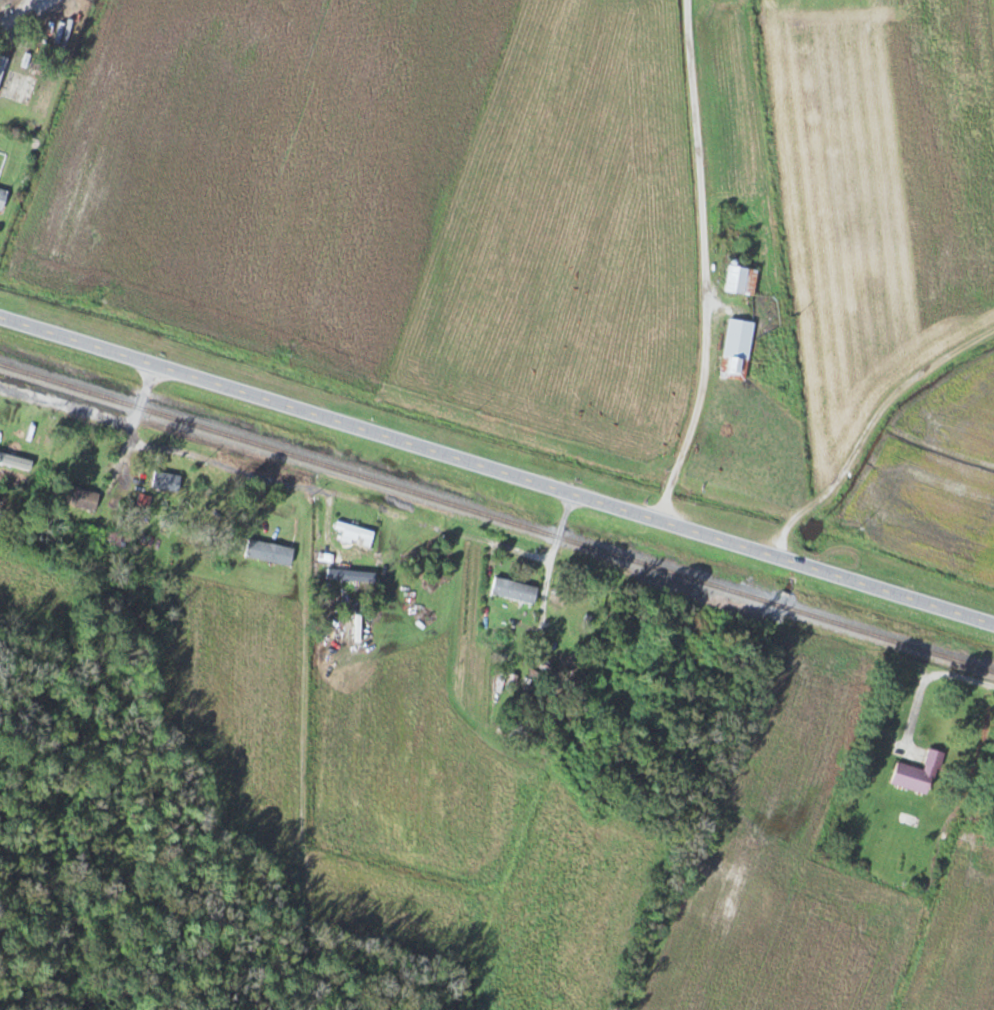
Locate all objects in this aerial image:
road: (20, 10)
building: (2, 65)
building: (3, 198)
road: (705, 263)
building: (742, 279)
building: (738, 348)
road: (94, 412)
road: (497, 470)
building: (167, 480)
building: (84, 498)
building: (145, 499)
road: (363, 499)
building: (9, 500)
railway: (497, 514)
building: (355, 529)
building: (120, 538)
building: (270, 551)
building: (515, 590)
building: (559, 601)
building: (920, 773)

